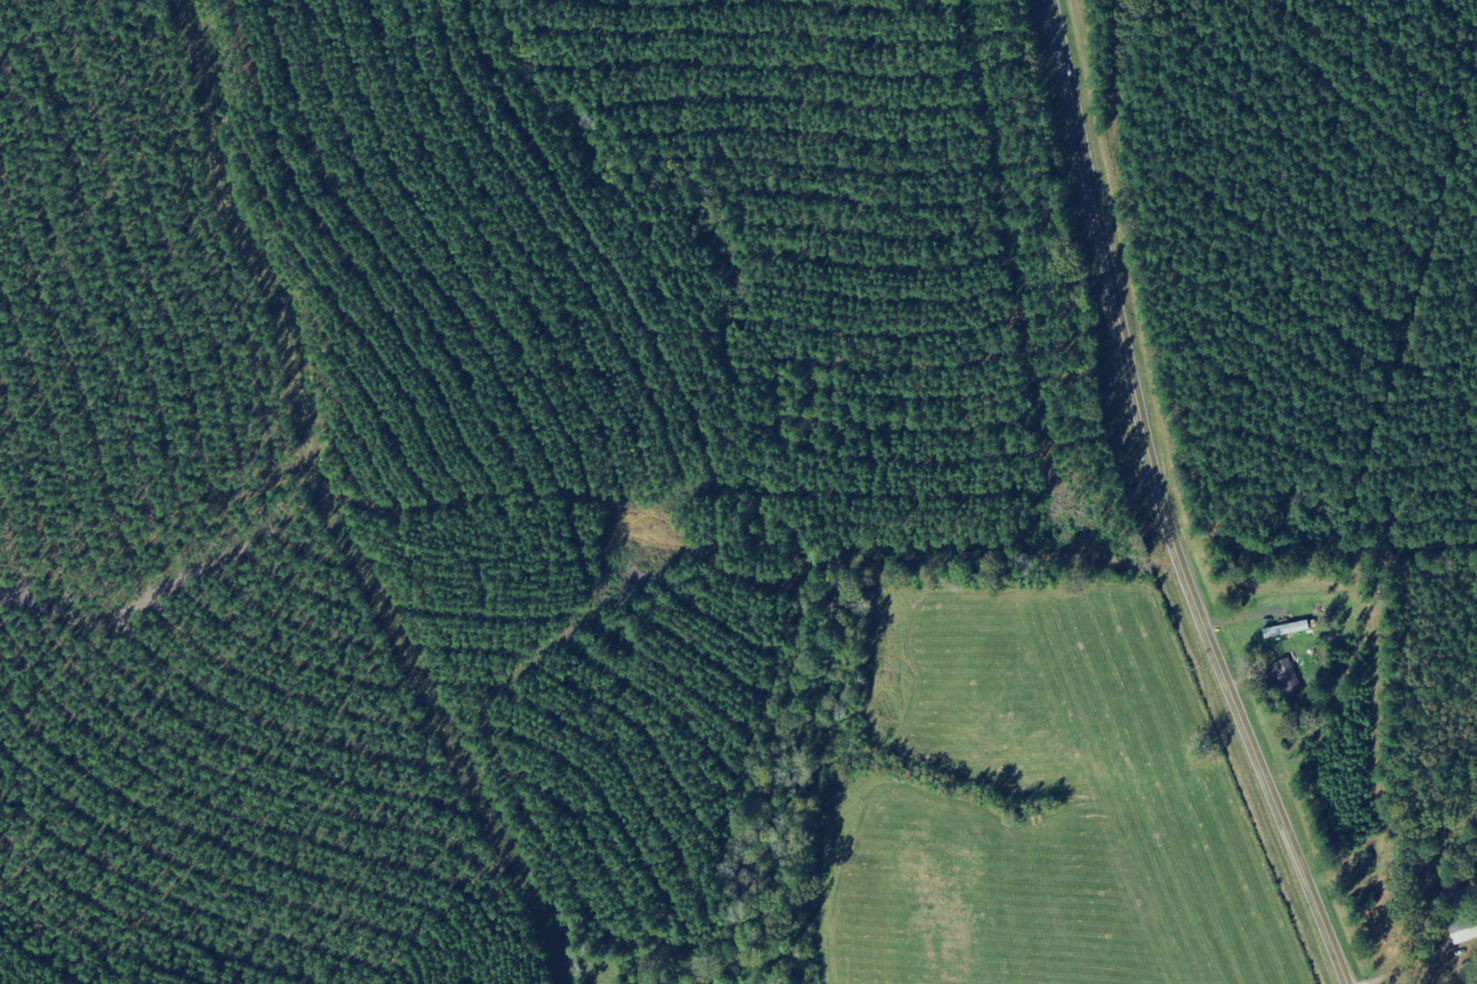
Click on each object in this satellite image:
road: (1159, 503)
building: (1283, 630)
building: (1286, 670)

